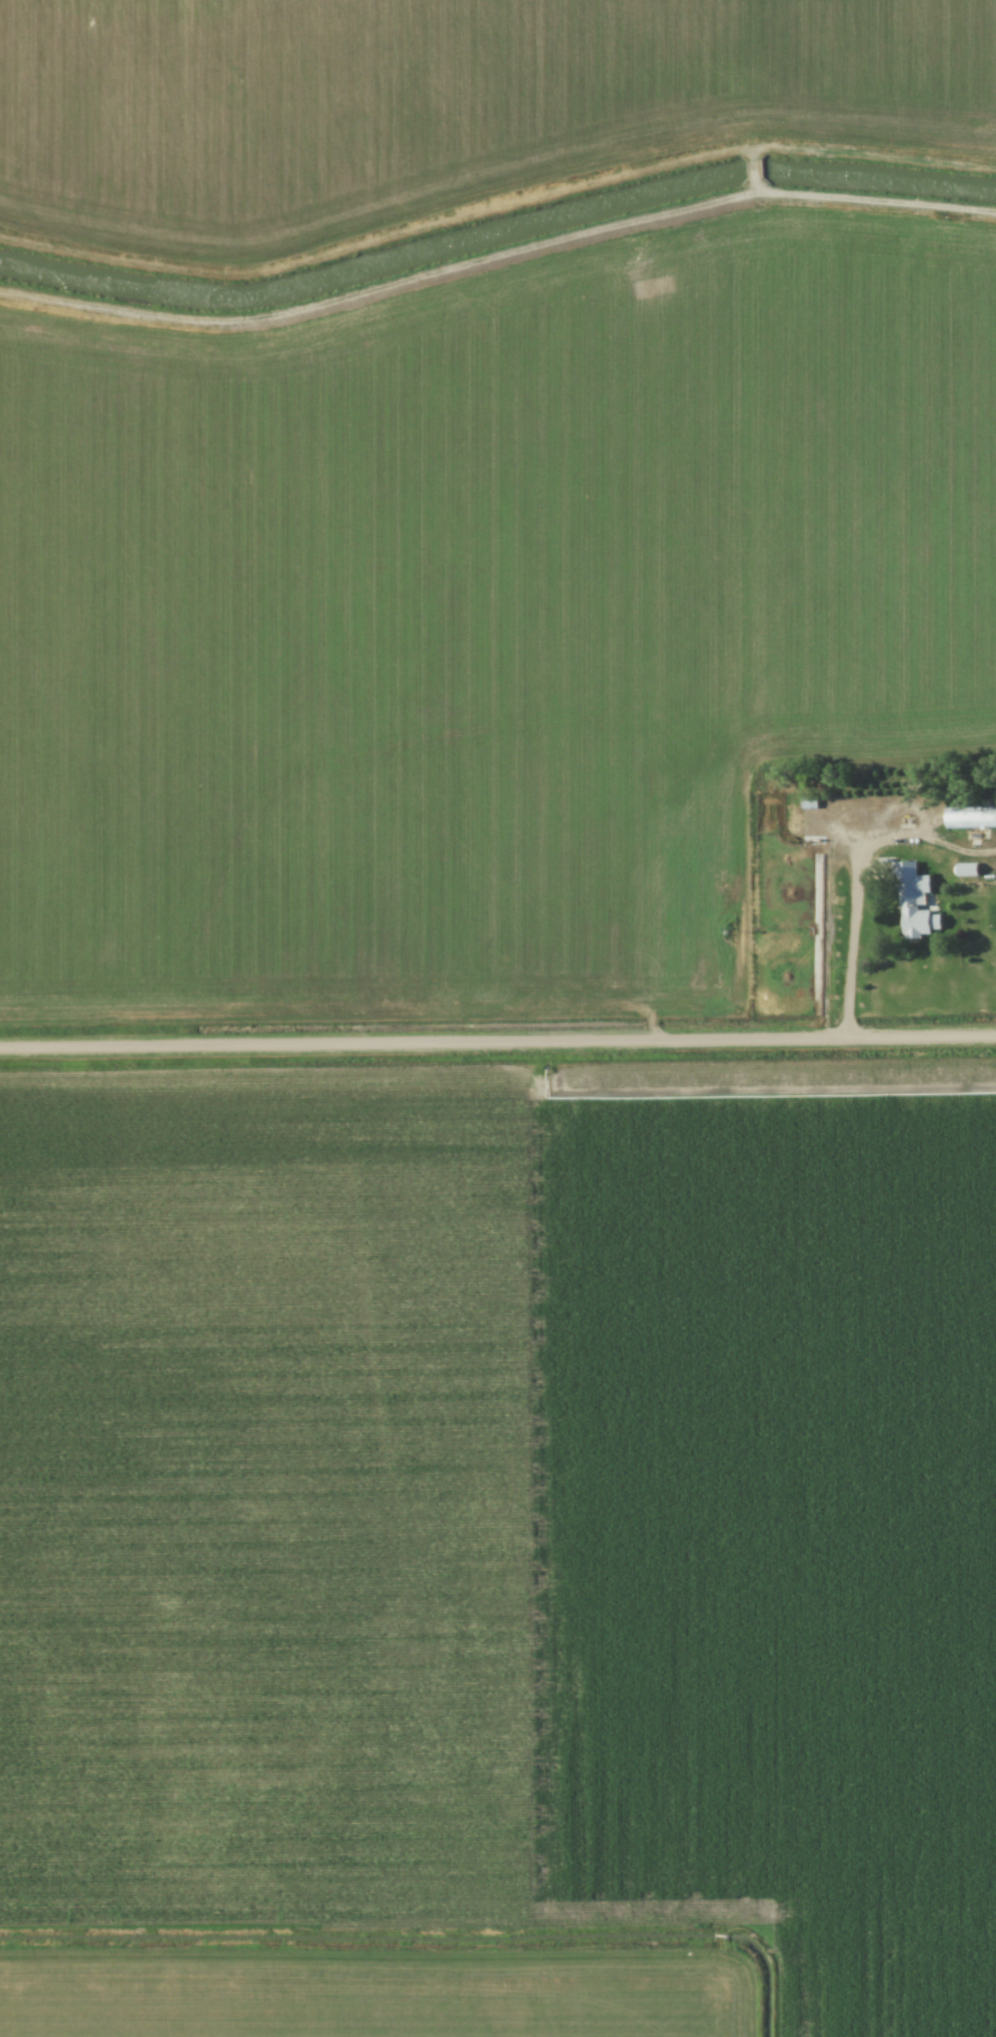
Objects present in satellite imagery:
crop: (433, 102)
crop: (469, 606)
building: (809, 800)
building: (970, 816)
building: (965, 868)
building: (913, 898)
road: (849, 946)
road: (497, 1039)
crop: (498, 1549)

